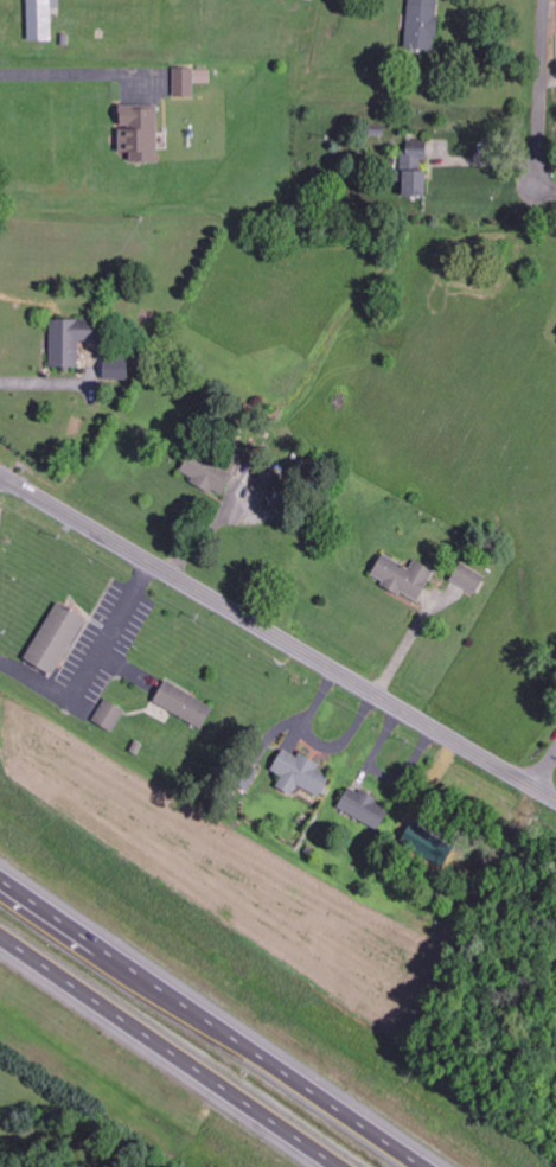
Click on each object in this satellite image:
building: (43, 19)
building: (426, 23)
road: (539, 91)
building: (142, 133)
road: (482, 161)
building: (417, 170)
road: (544, 186)
building: (71, 342)
building: (119, 369)
building: (206, 477)
building: (405, 576)
building: (469, 579)
building: (58, 638)
road: (277, 640)
building: (186, 704)
building: (109, 715)
road: (544, 771)
building: (302, 774)
building: (365, 808)
road: (212, 1021)
road: (173, 1048)

